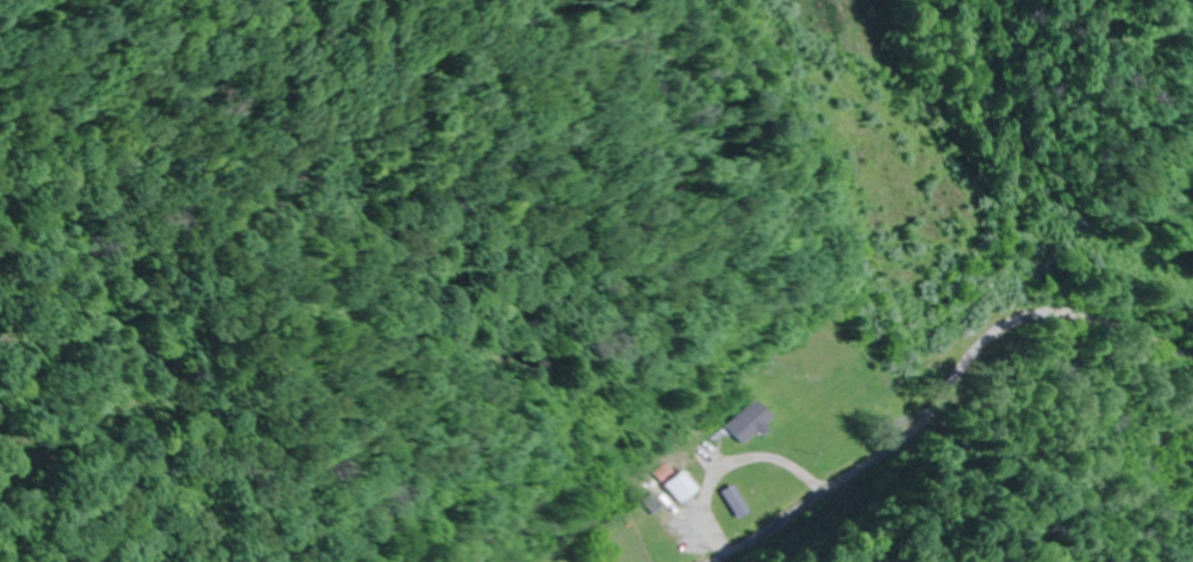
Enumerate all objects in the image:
road: (951, 402)
building: (755, 421)
building: (679, 487)
building: (733, 501)

